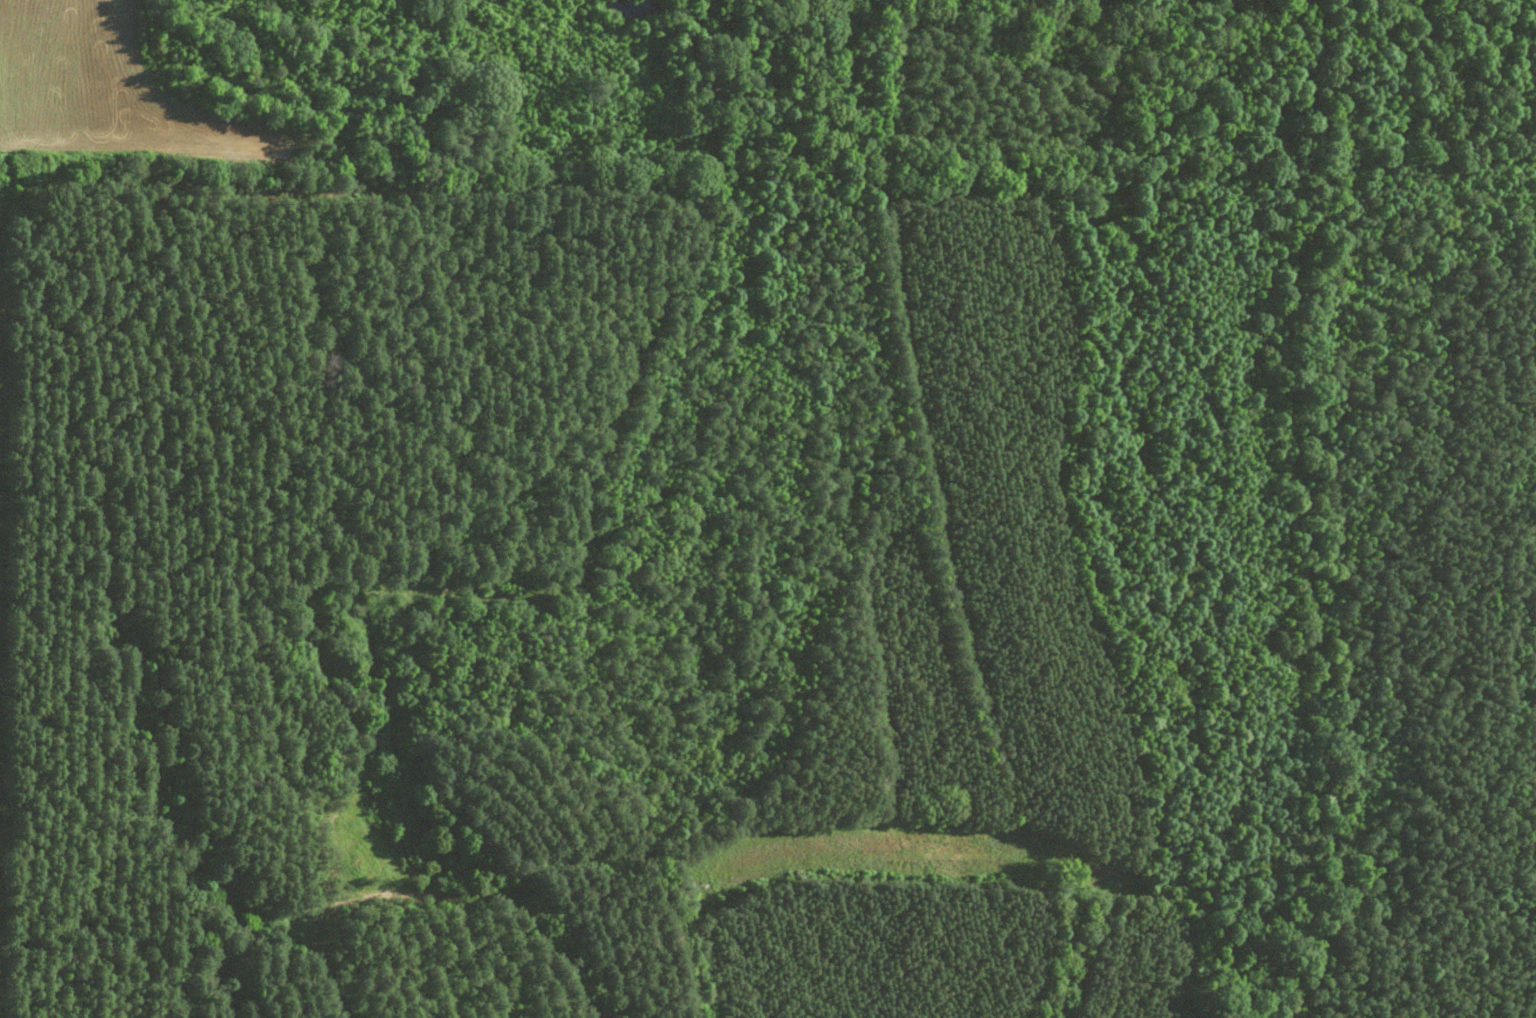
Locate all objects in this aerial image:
road: (359, 427)

